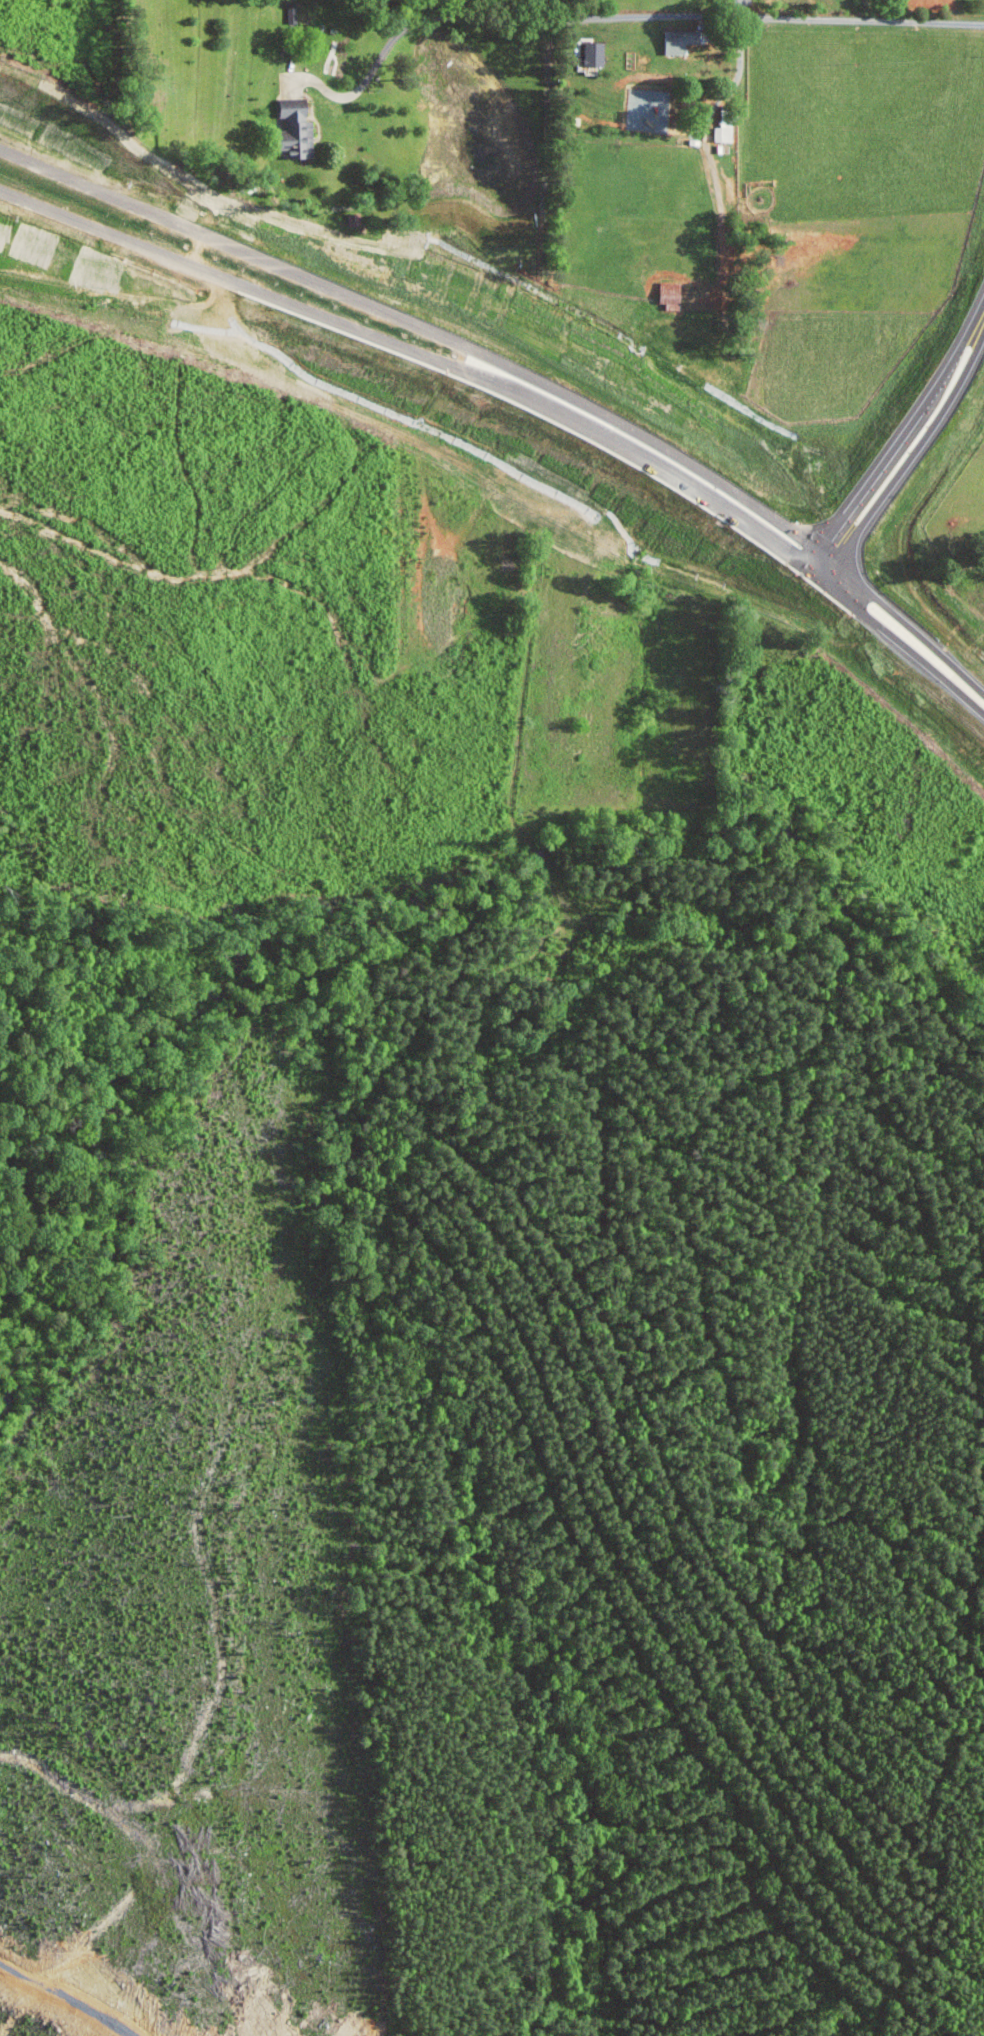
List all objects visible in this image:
road: (744, 8)
building: (293, 13)
road: (619, 17)
building: (681, 40)
building: (598, 53)
building: (300, 126)
road: (681, 129)
building: (724, 129)
road: (255, 288)
building: (673, 296)
road: (418, 328)
road: (956, 352)
road: (915, 444)
road: (872, 473)
road: (664, 474)
road: (822, 556)
road: (813, 561)
road: (820, 566)
road: (908, 625)
road: (899, 638)

